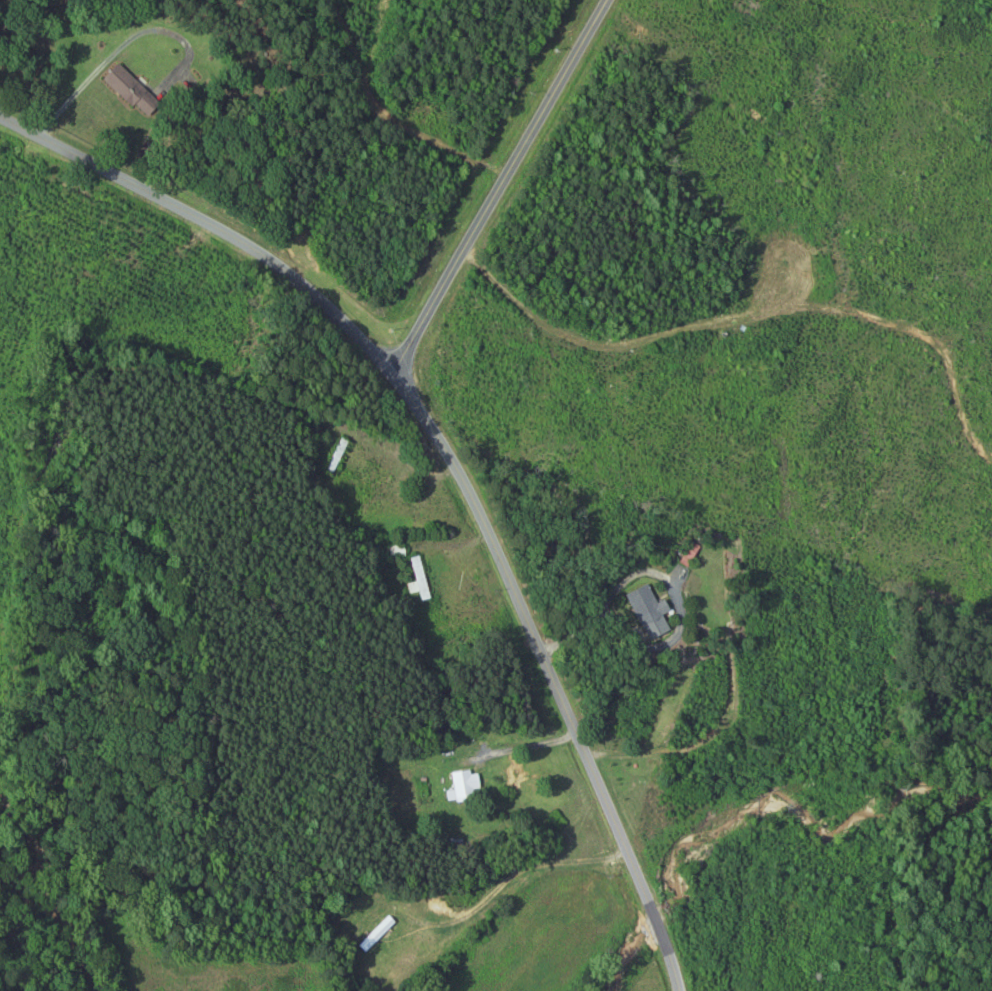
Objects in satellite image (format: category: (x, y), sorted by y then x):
road: (125, 44)
building: (136, 91)
road: (500, 185)
building: (338, 456)
road: (450, 460)
building: (398, 552)
building: (421, 580)
building: (654, 612)
building: (469, 785)
building: (383, 935)

